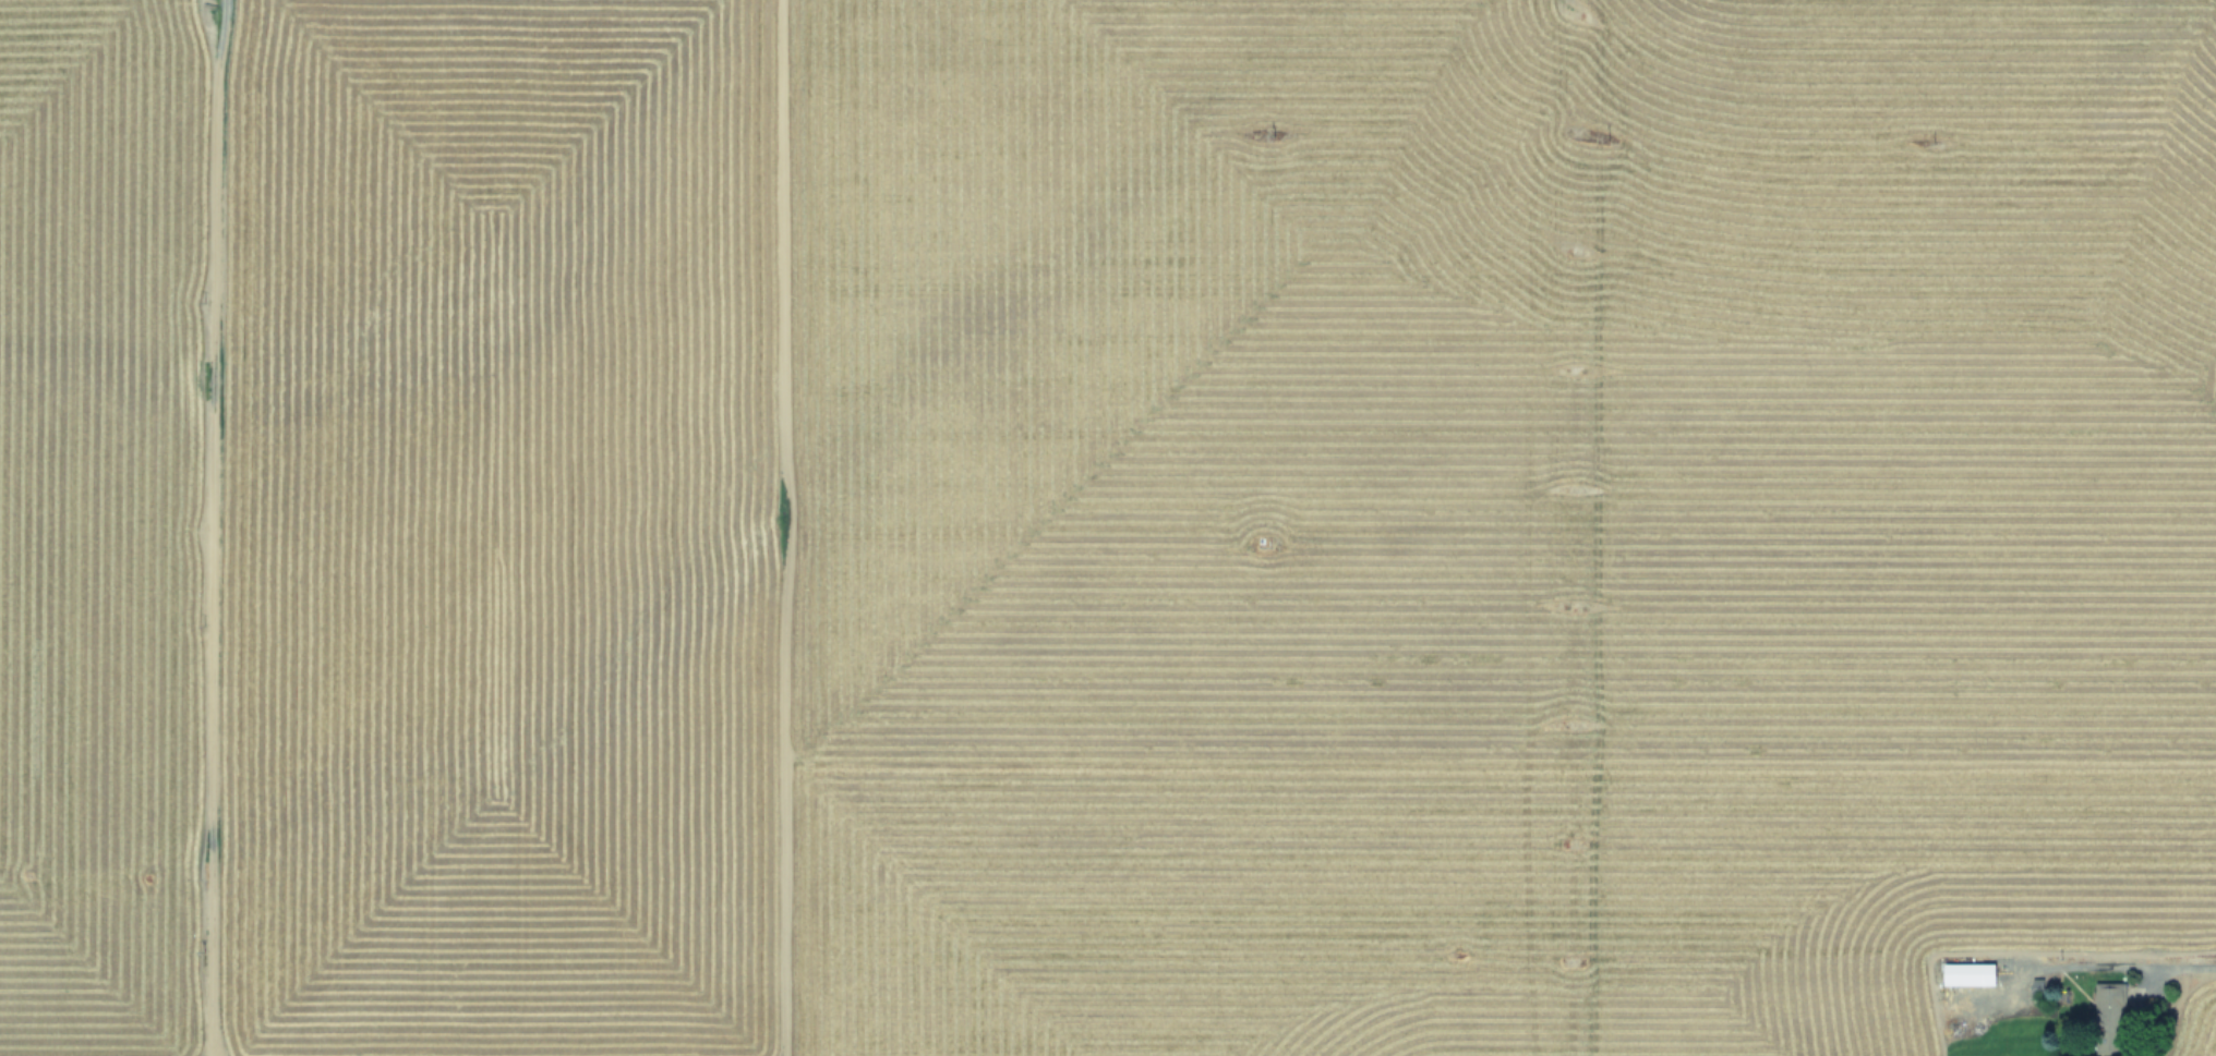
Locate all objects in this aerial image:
building: (1122, 20)
road: (917, 78)
building: (902, 187)
crop: (1108, 527)
road: (2183, 964)
building: (1962, 975)
building: (1988, 975)
building: (2109, 1011)

